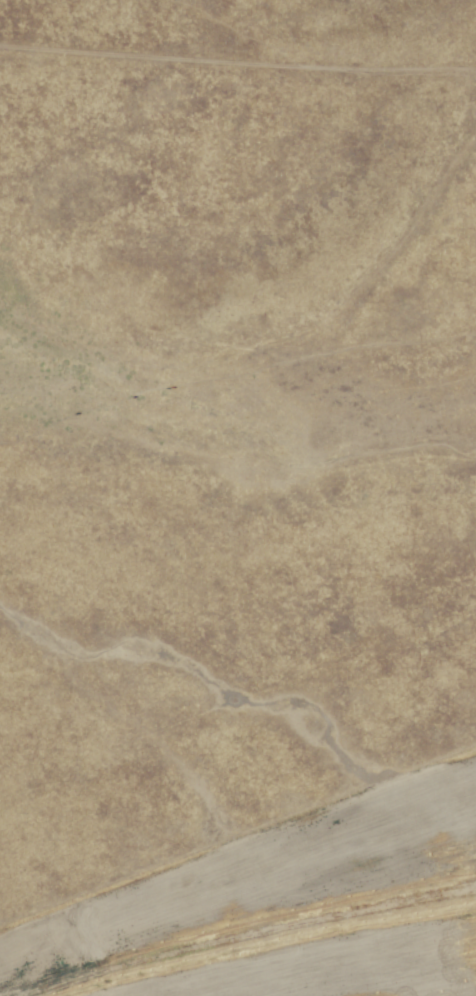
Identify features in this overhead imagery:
road: (273, 953)

